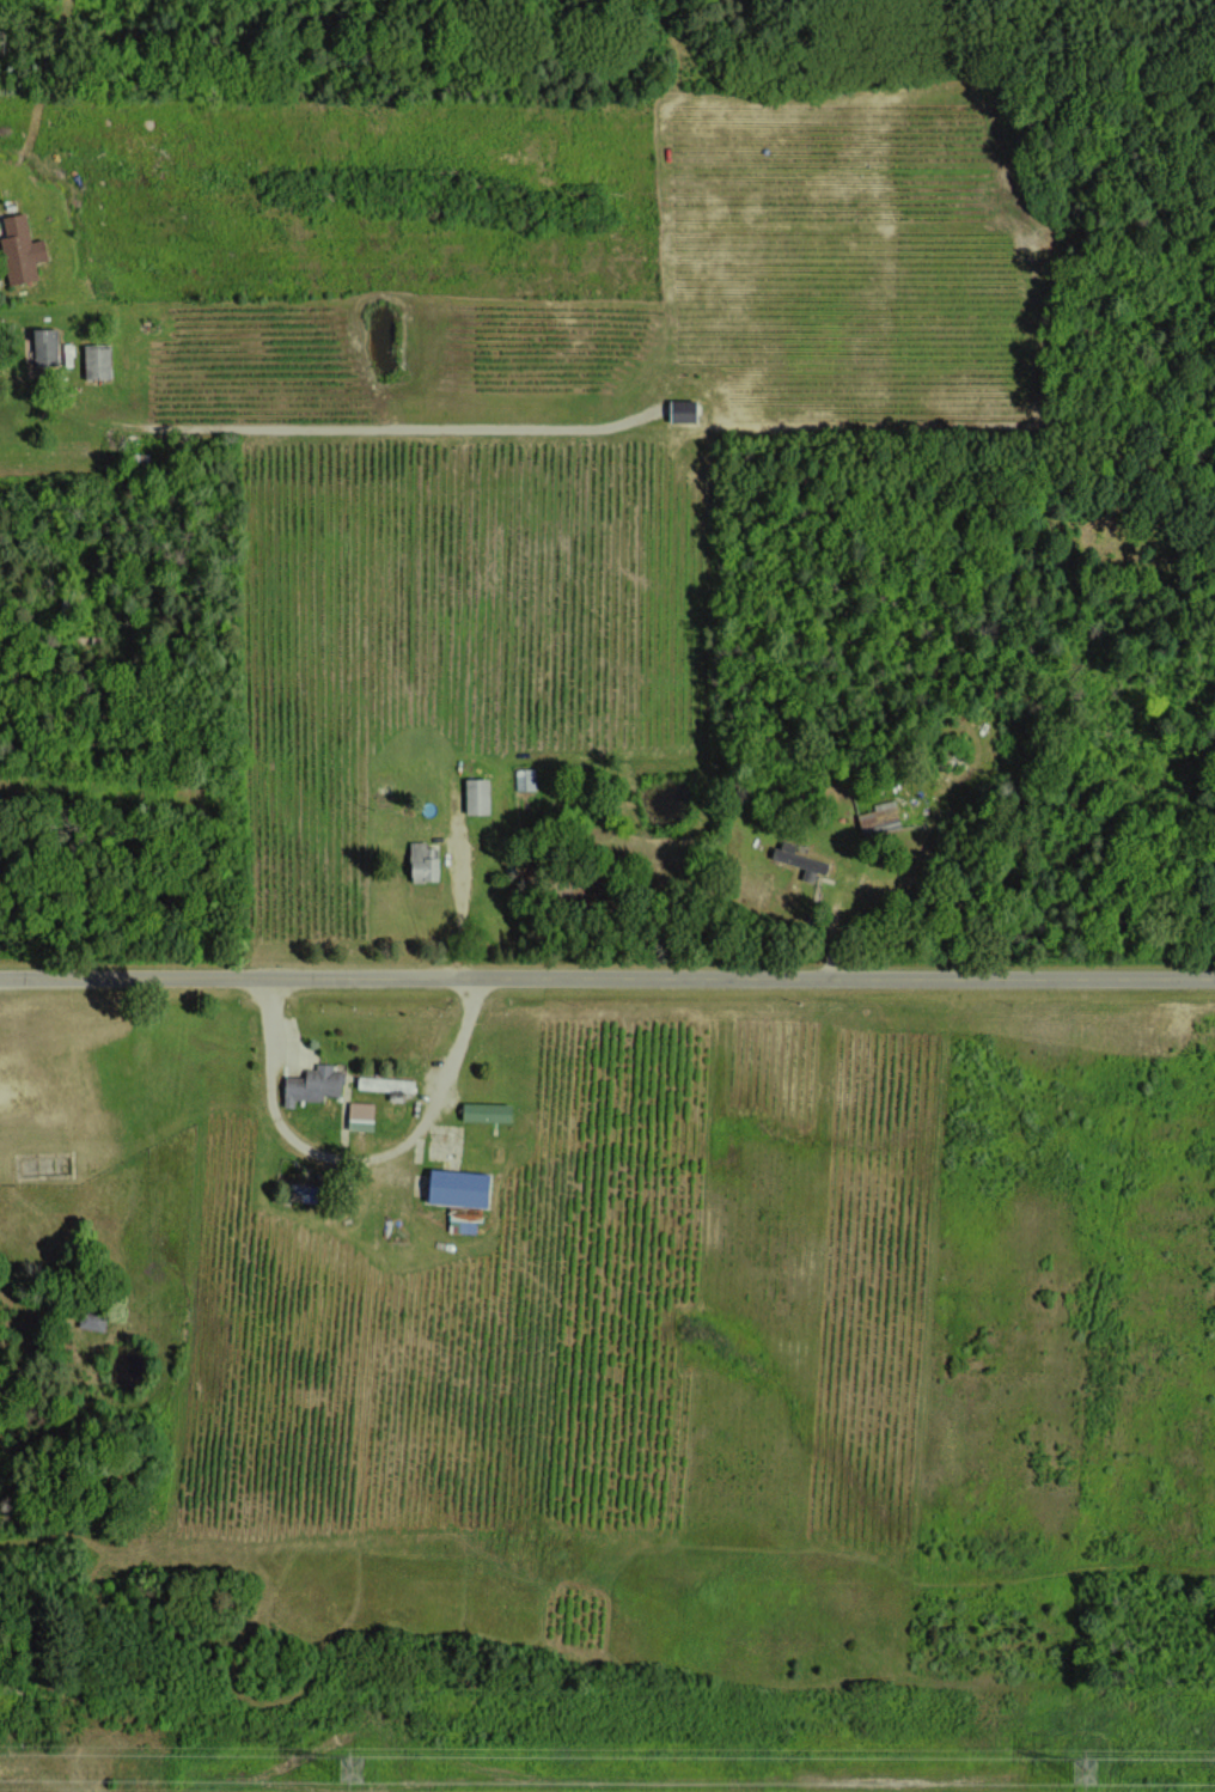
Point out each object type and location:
building: (19, 250)
building: (44, 347)
building: (96, 361)
building: (679, 409)
building: (476, 796)
building: (879, 818)
building: (799, 860)
building: (422, 861)
road: (460, 894)
road: (606, 971)
building: (312, 1084)
building: (387, 1085)
building: (484, 1111)
building: (360, 1115)
road: (350, 1159)
building: (91, 1321)
power tower: (355, 1767)
power tower: (1085, 1774)

